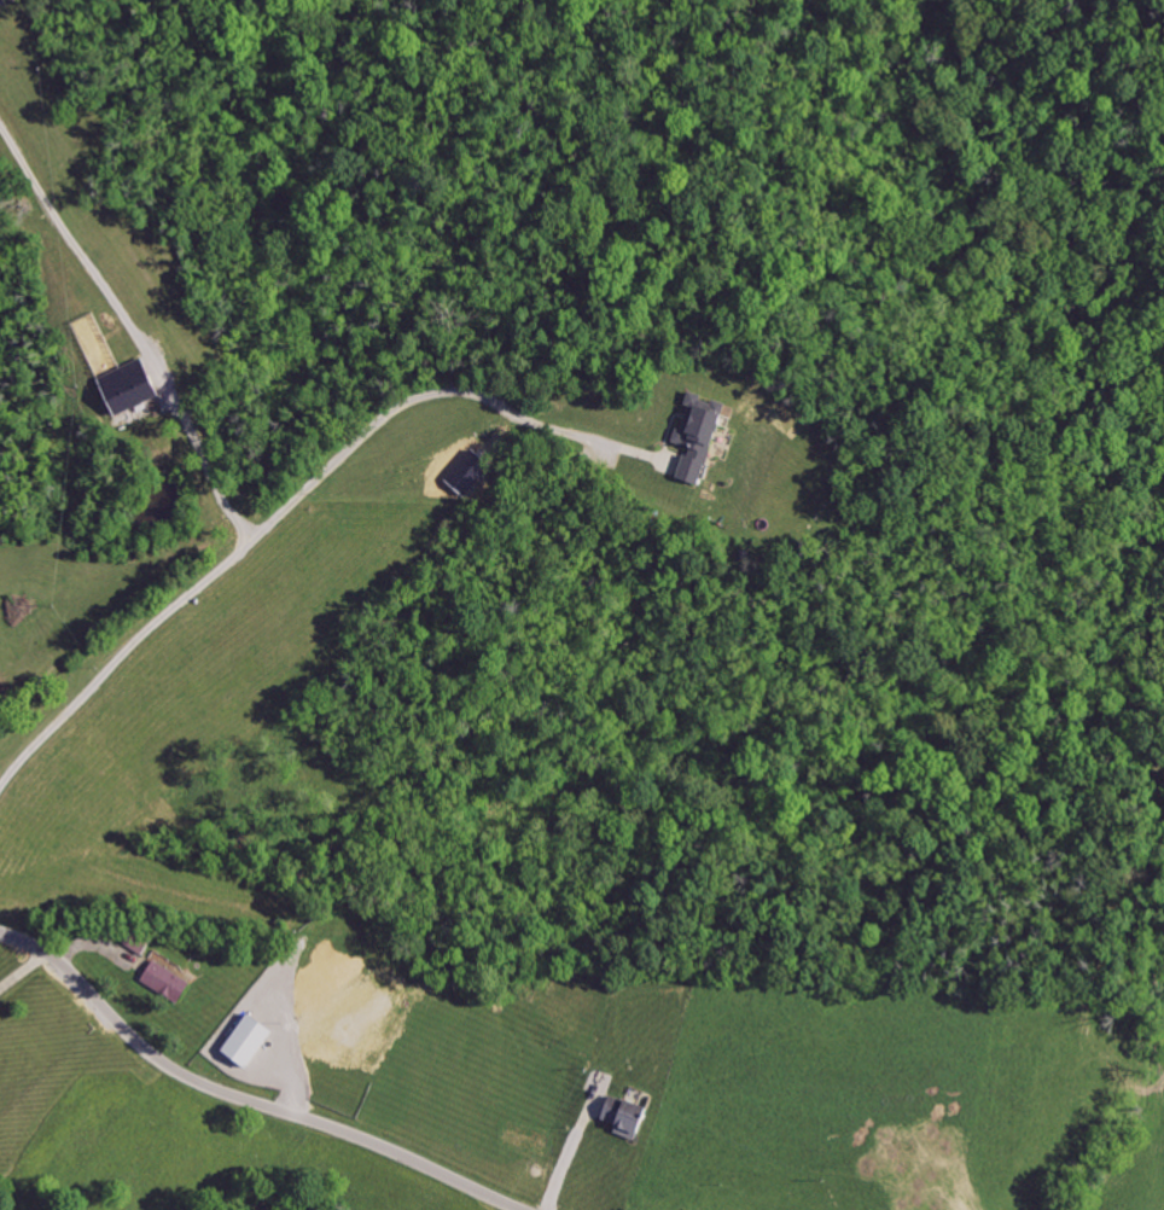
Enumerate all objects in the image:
building: (5, 2)
road: (412, 385)
building: (134, 386)
building: (704, 436)
road: (213, 472)
road: (24, 973)
building: (171, 981)
building: (254, 1039)
road: (246, 1098)
building: (632, 1115)

